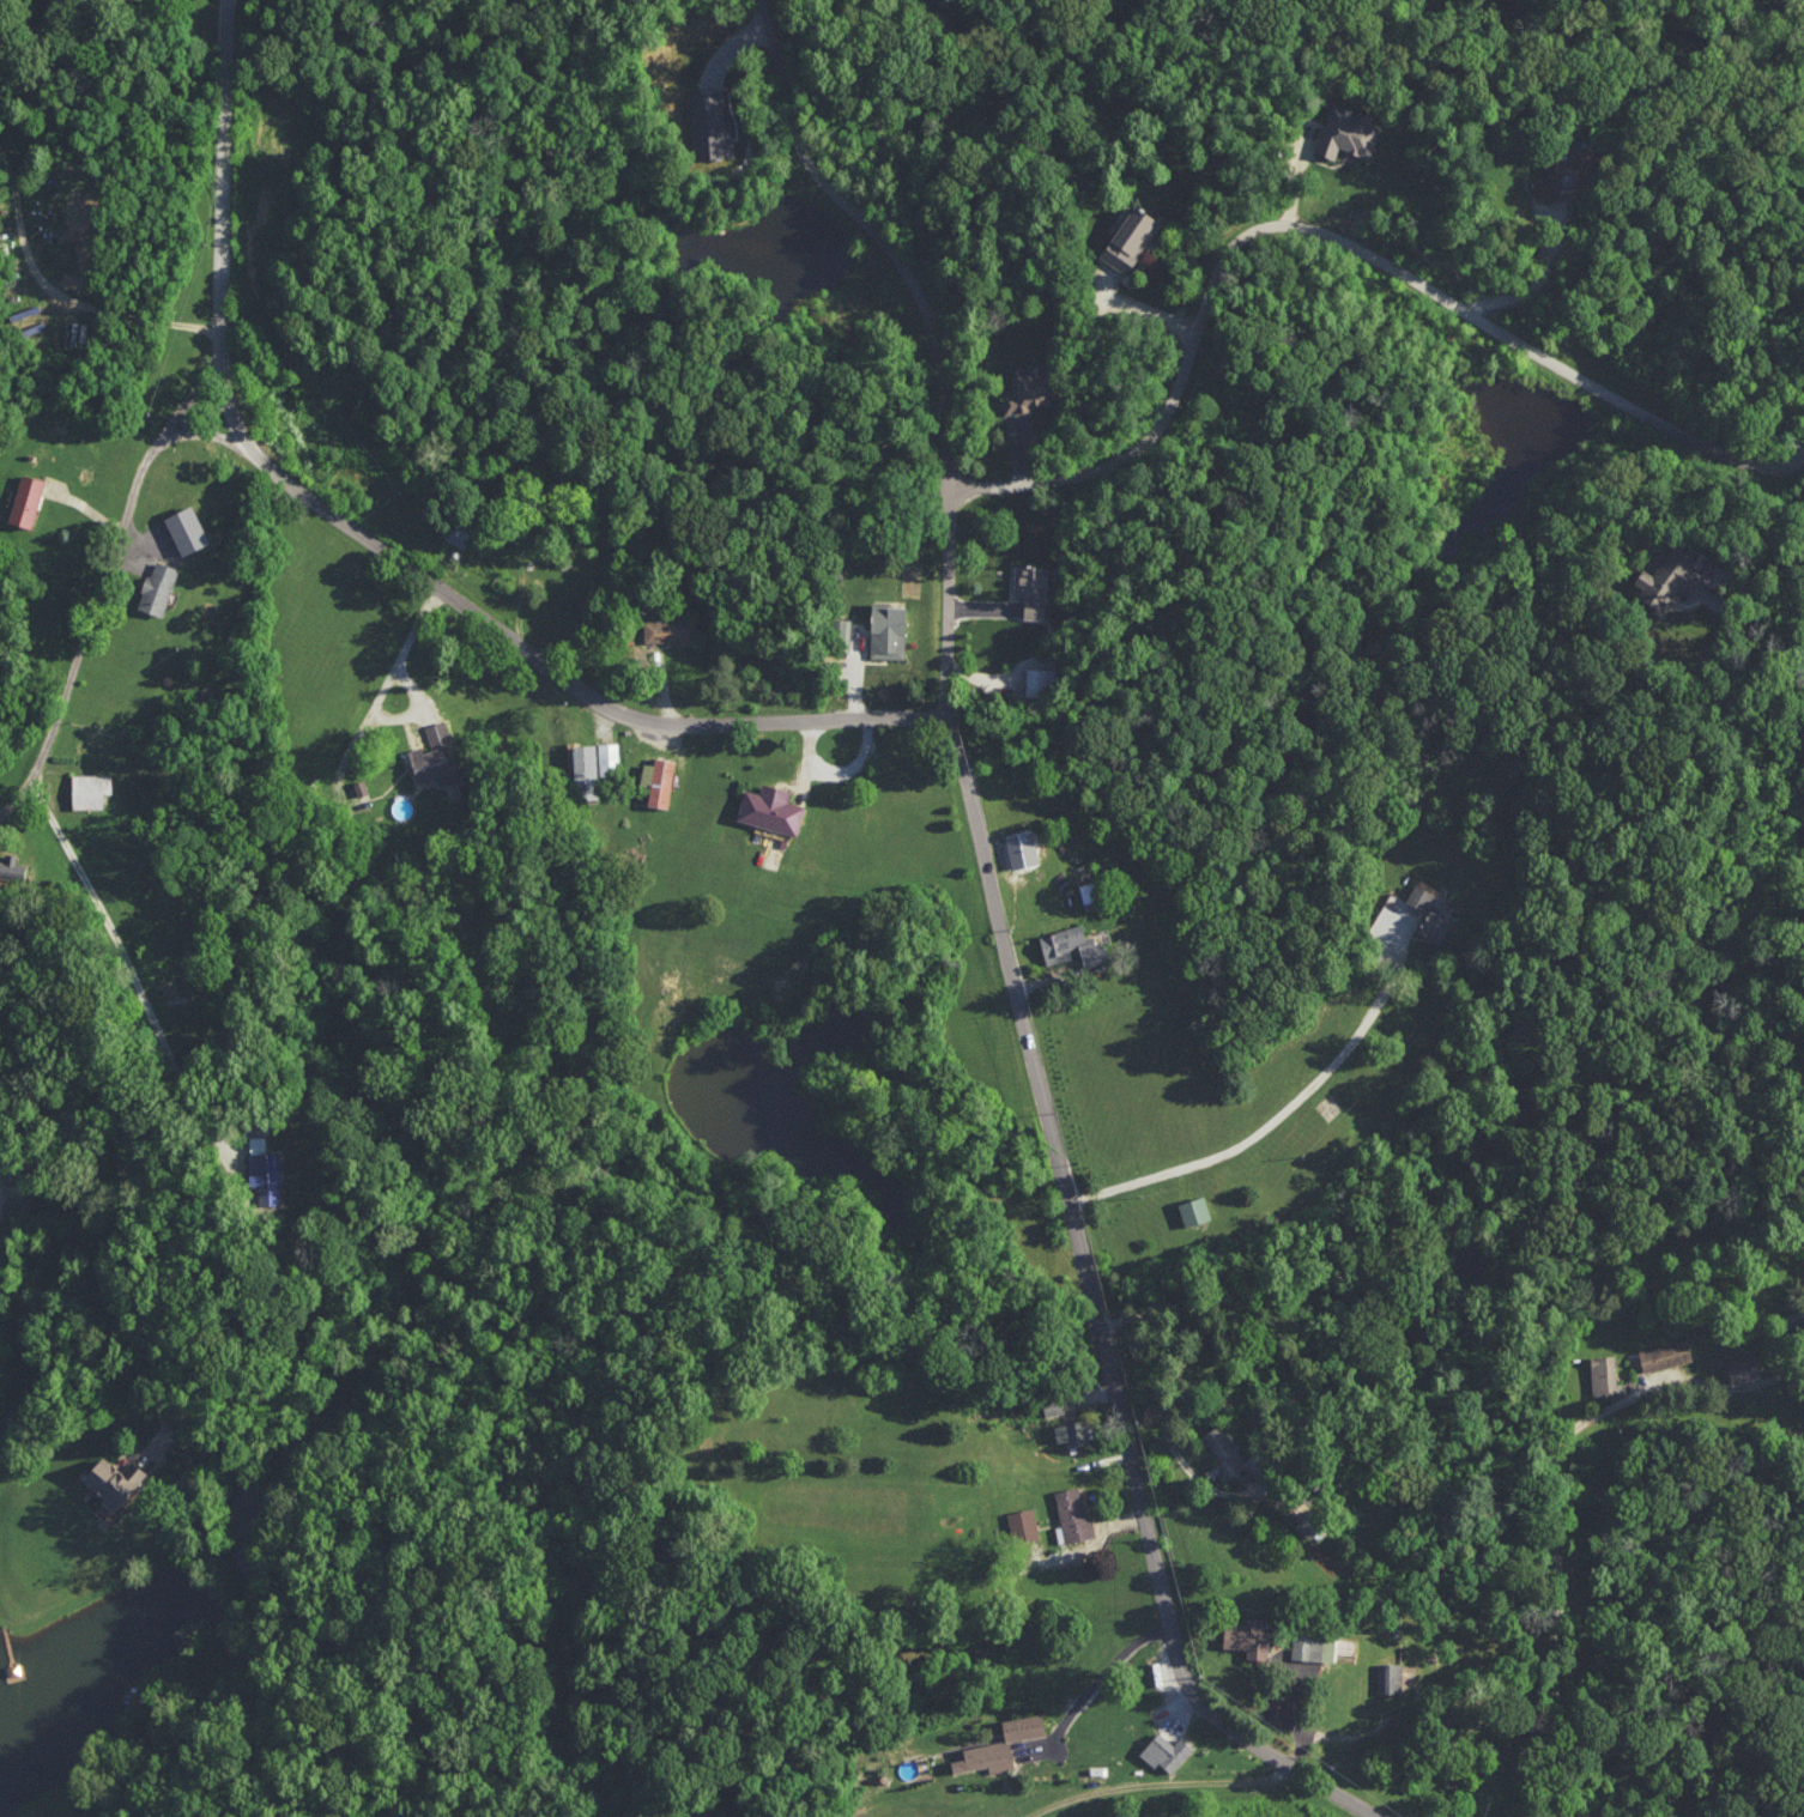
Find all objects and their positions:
building: (709, 125)
building: (1348, 131)
building: (1566, 174)
road: (1318, 236)
building: (1131, 238)
road: (1534, 285)
road: (62, 292)
road: (1157, 314)
road: (927, 331)
building: (1030, 390)
building: (26, 499)
building: (187, 529)
building: (456, 533)
road: (1766, 574)
building: (1669, 577)
road: (109, 587)
building: (158, 587)
building: (1033, 588)
building: (671, 630)
building: (889, 630)
building: (1041, 680)
road: (379, 694)
road: (932, 726)
building: (436, 755)
building: (609, 757)
building: (586, 770)
building: (659, 780)
building: (90, 789)
building: (771, 807)
building: (1023, 849)
building: (12, 871)
building: (1419, 896)
building: (1436, 925)
building: (1072, 945)
road: (133, 971)
road: (1288, 1128)
road: (120, 1169)
building: (265, 1170)
building: (1194, 1209)
building: (1665, 1353)
building: (1744, 1367)
building: (1603, 1373)
building: (1072, 1431)
building: (1224, 1450)
building: (108, 1480)
road: (1552, 1492)
building: (1072, 1513)
building: (1023, 1522)
building: (1312, 1525)
building: (1252, 1636)
building: (1313, 1645)
building: (1388, 1676)
road: (1097, 1680)
building: (1000, 1744)
building: (1166, 1751)
road: (1163, 1785)

